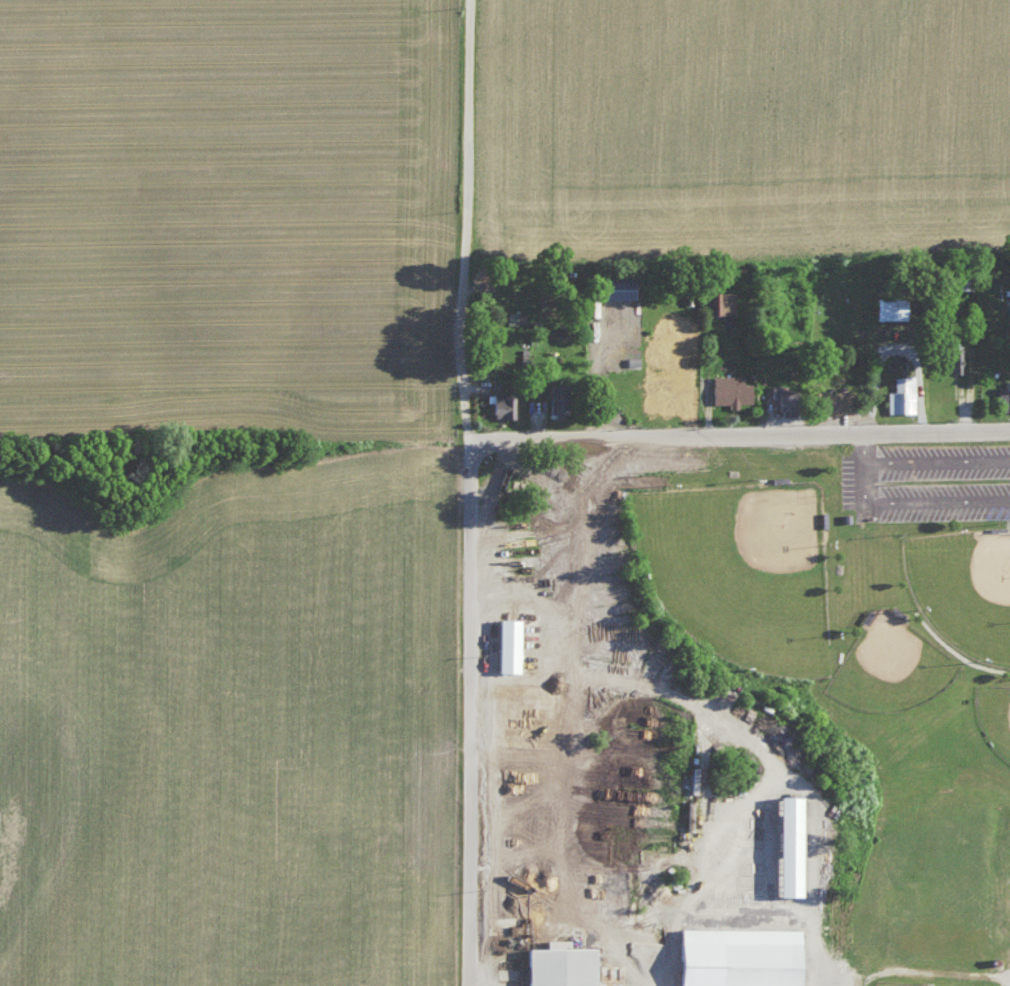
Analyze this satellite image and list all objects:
road: (475, 225)
building: (957, 280)
building: (613, 287)
building: (718, 301)
building: (881, 307)
building: (1007, 311)
building: (953, 359)
road: (621, 372)
building: (728, 389)
building: (899, 394)
building: (1006, 394)
building: (781, 399)
building: (554, 400)
building: (829, 400)
building: (499, 404)
road: (718, 410)
road: (739, 436)
road: (937, 462)
road: (905, 500)
park: (739, 568)
building: (505, 644)
park: (890, 666)
park: (995, 715)
road: (476, 726)
building: (783, 845)
building: (735, 956)
building: (557, 965)
road: (934, 971)
park: (908, 984)

